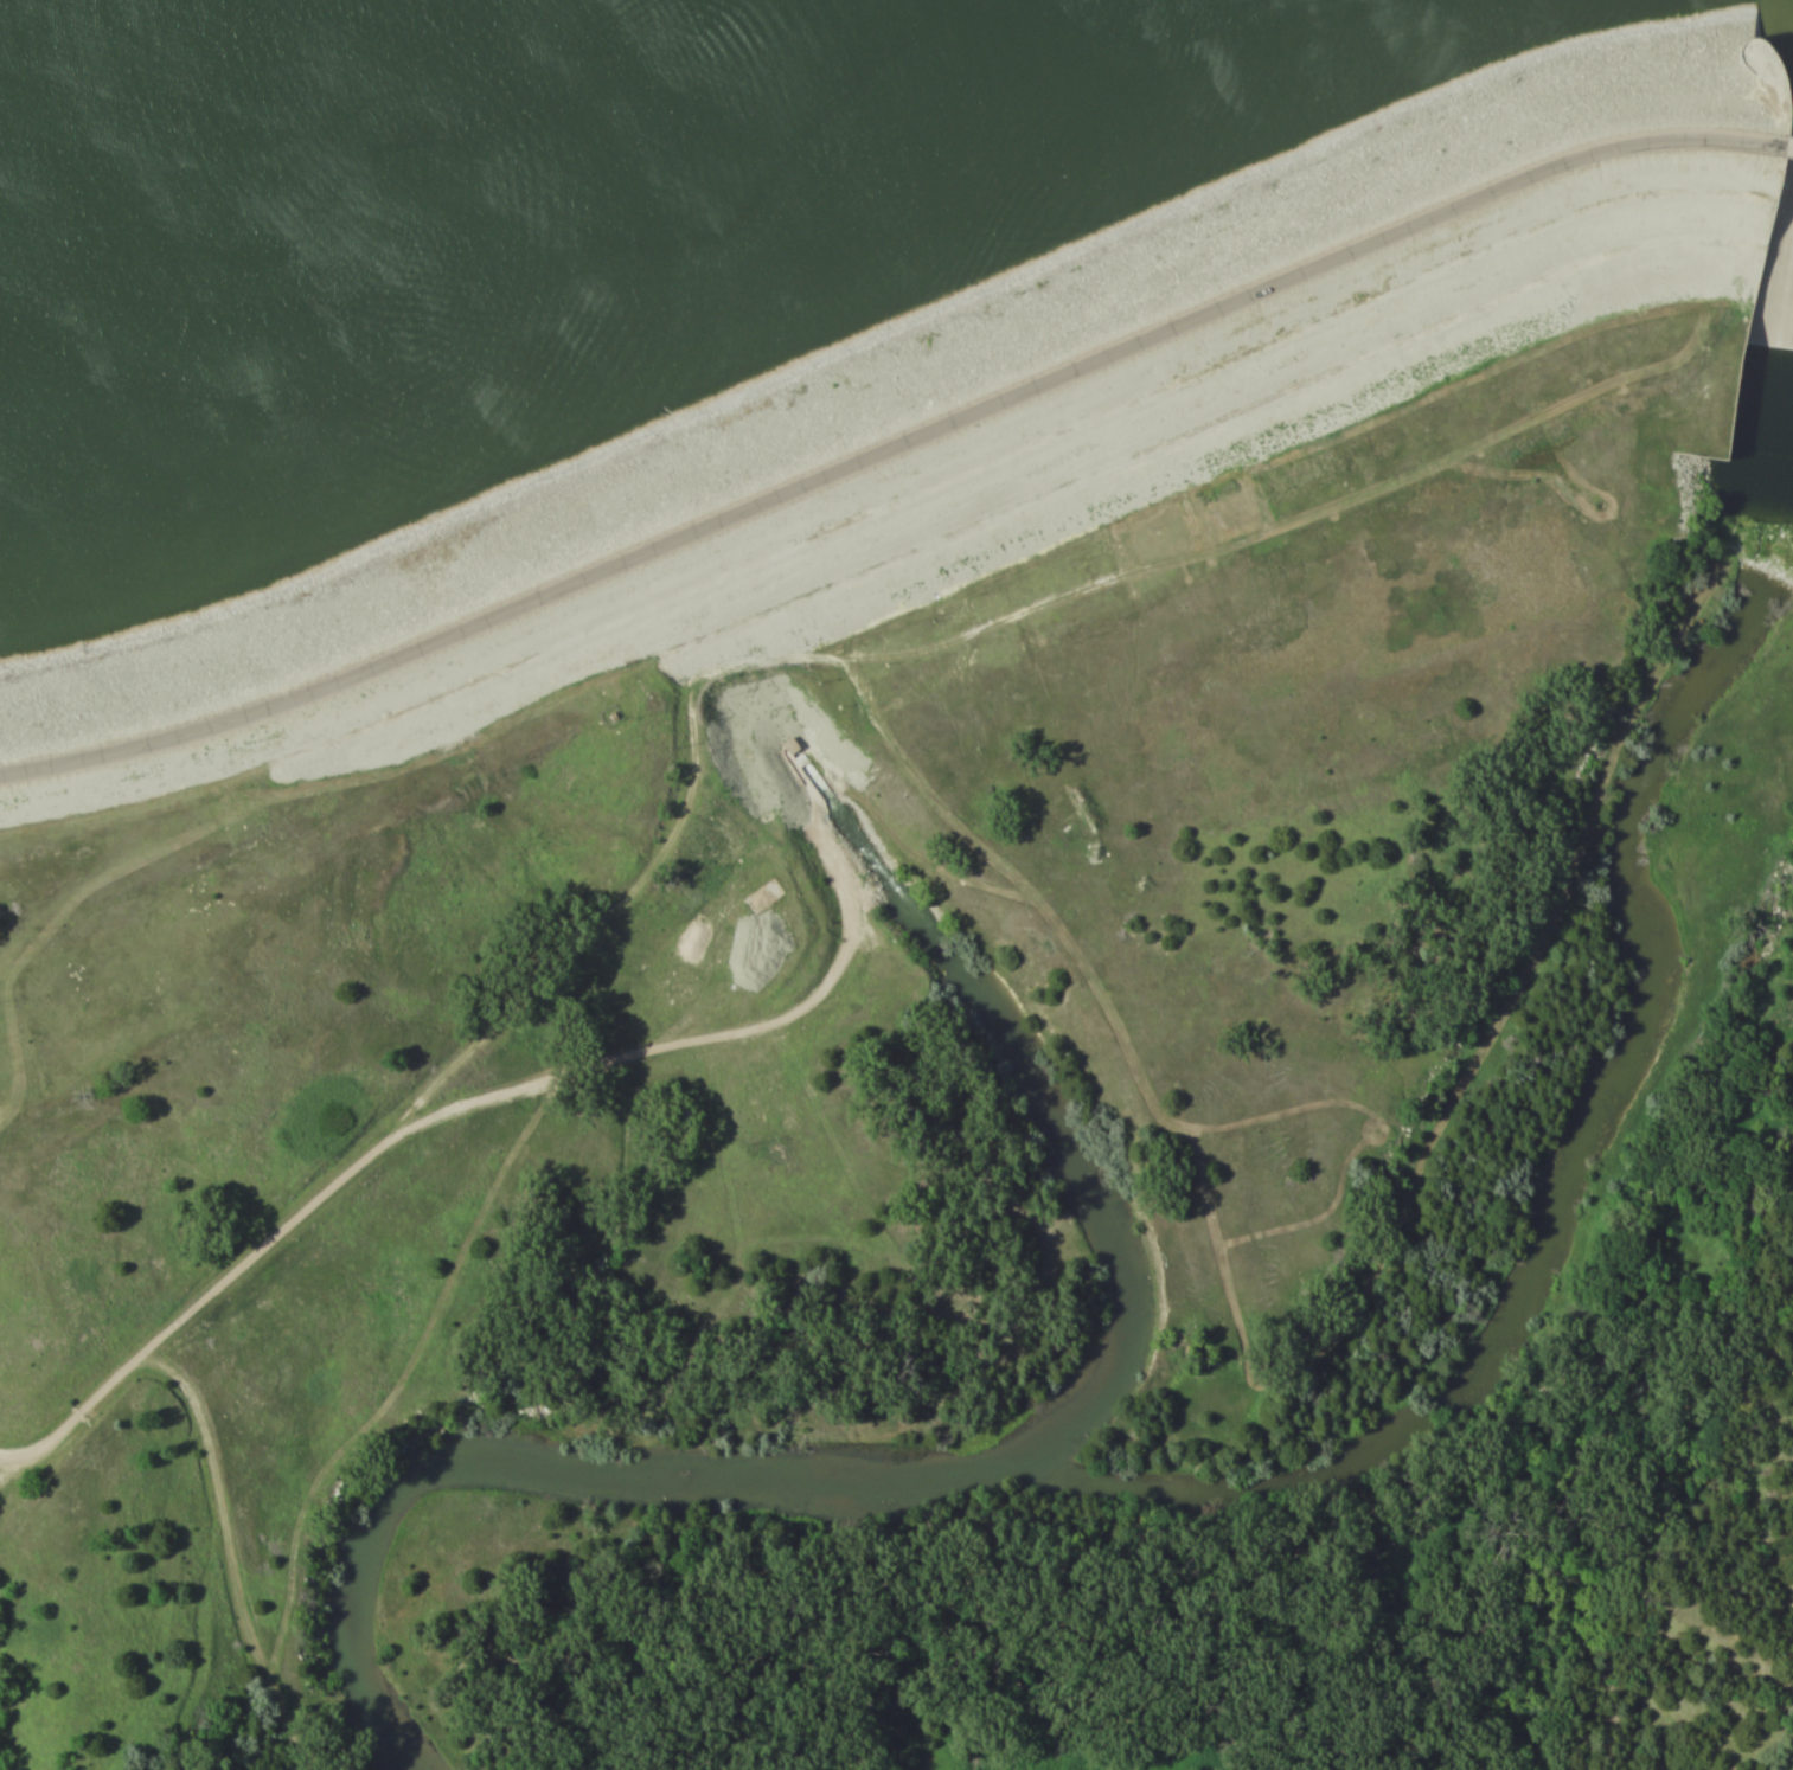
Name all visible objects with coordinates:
dam: (873, 322)
road: (895, 431)
river: (710, 604)
building: (789, 745)
park: (896, 885)
building: (761, 896)
road: (470, 1107)
river: (962, 1466)
road: (226, 1556)

